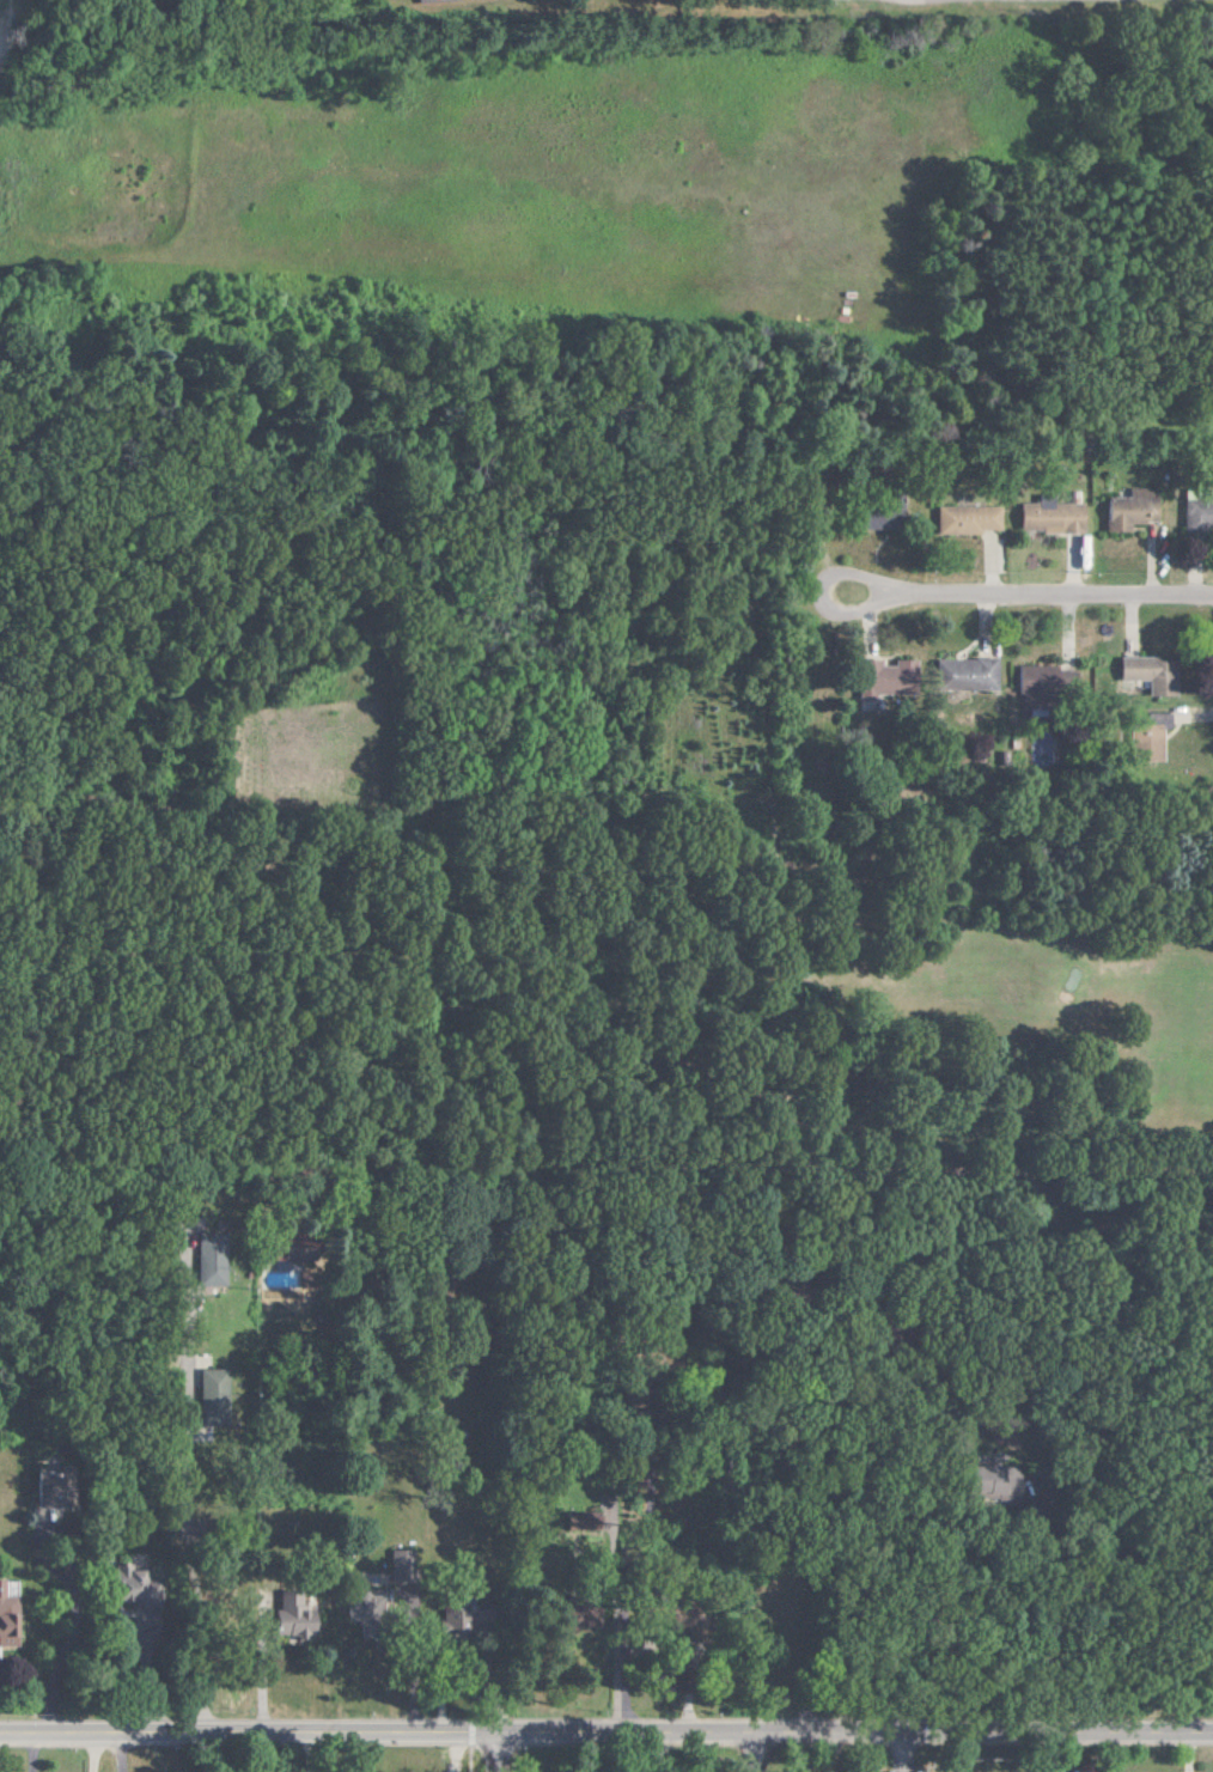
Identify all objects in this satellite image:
building: (429, 0)
building: (1126, 510)
building: (1195, 512)
building: (879, 517)
building: (1044, 518)
building: (962, 519)
road: (1014, 596)
building: (1144, 674)
building: (959, 675)
building: (879, 678)
building: (1038, 678)
building: (1144, 738)
road: (1166, 792)
building: (207, 1260)
road: (864, 1299)
building: (644, 1364)
road: (170, 1453)
building: (127, 1585)
building: (285, 1614)
building: (5, 1621)
road: (71, 1622)
road: (617, 1628)
road: (605, 1731)
road: (28, 1752)
road: (89, 1752)
road: (116, 1752)
road: (492, 1752)
road: (749, 1752)
road: (895, 1752)
road: (1053, 1752)

